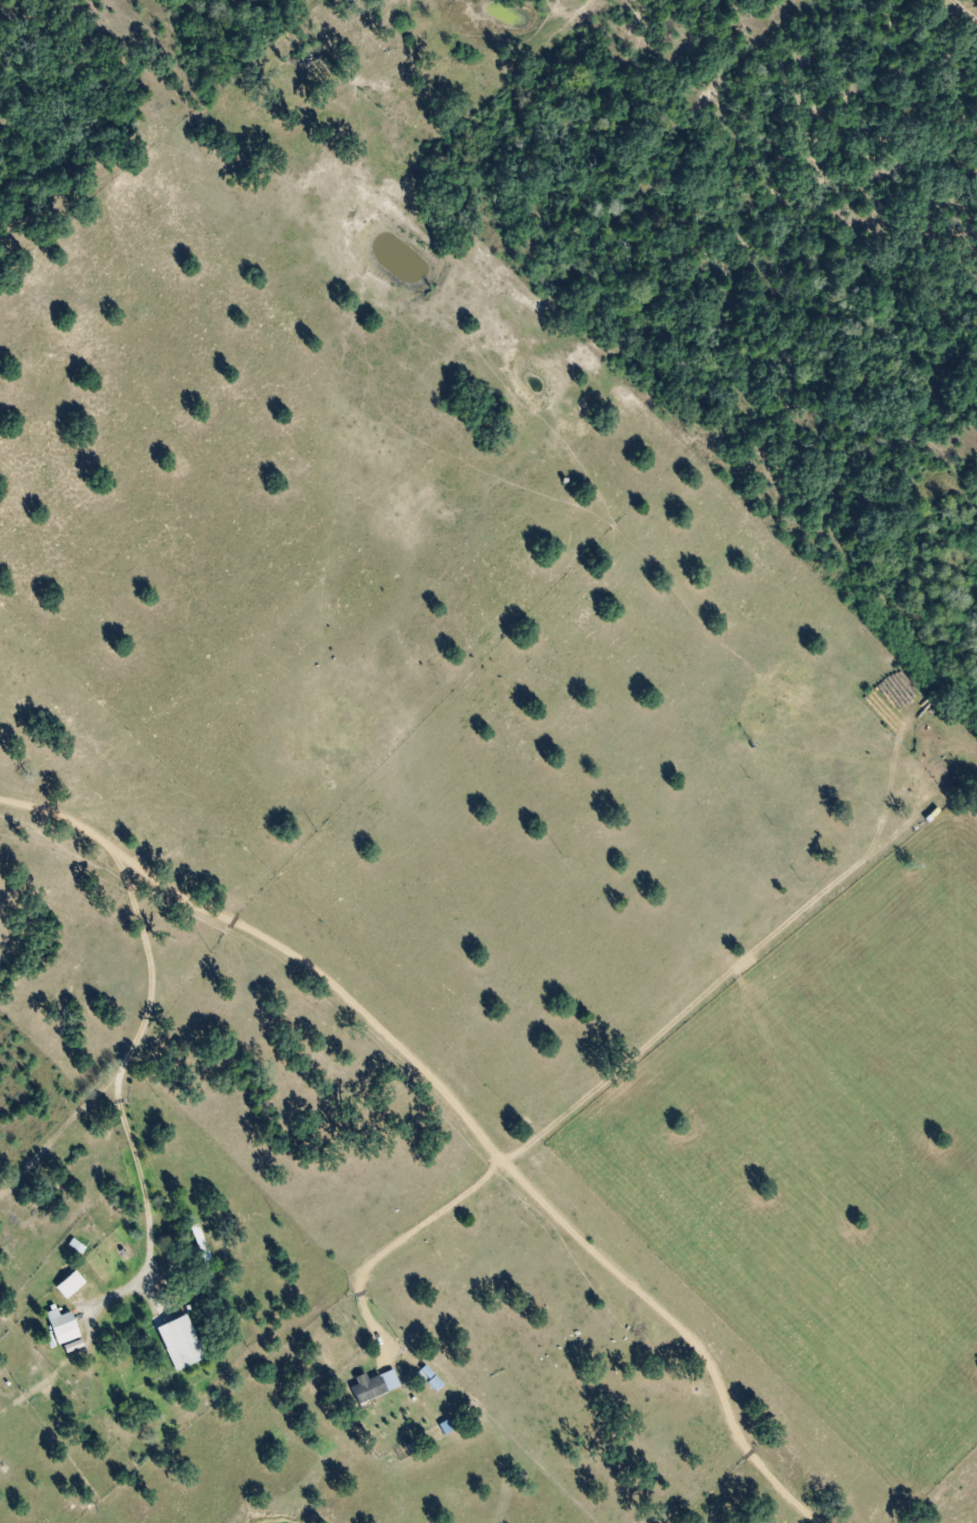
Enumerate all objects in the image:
road: (54, 813)
road: (429, 1074)
building: (75, 1246)
building: (67, 1284)
building: (59, 1326)
building: (177, 1342)
building: (71, 1346)
building: (427, 1377)
building: (367, 1386)

